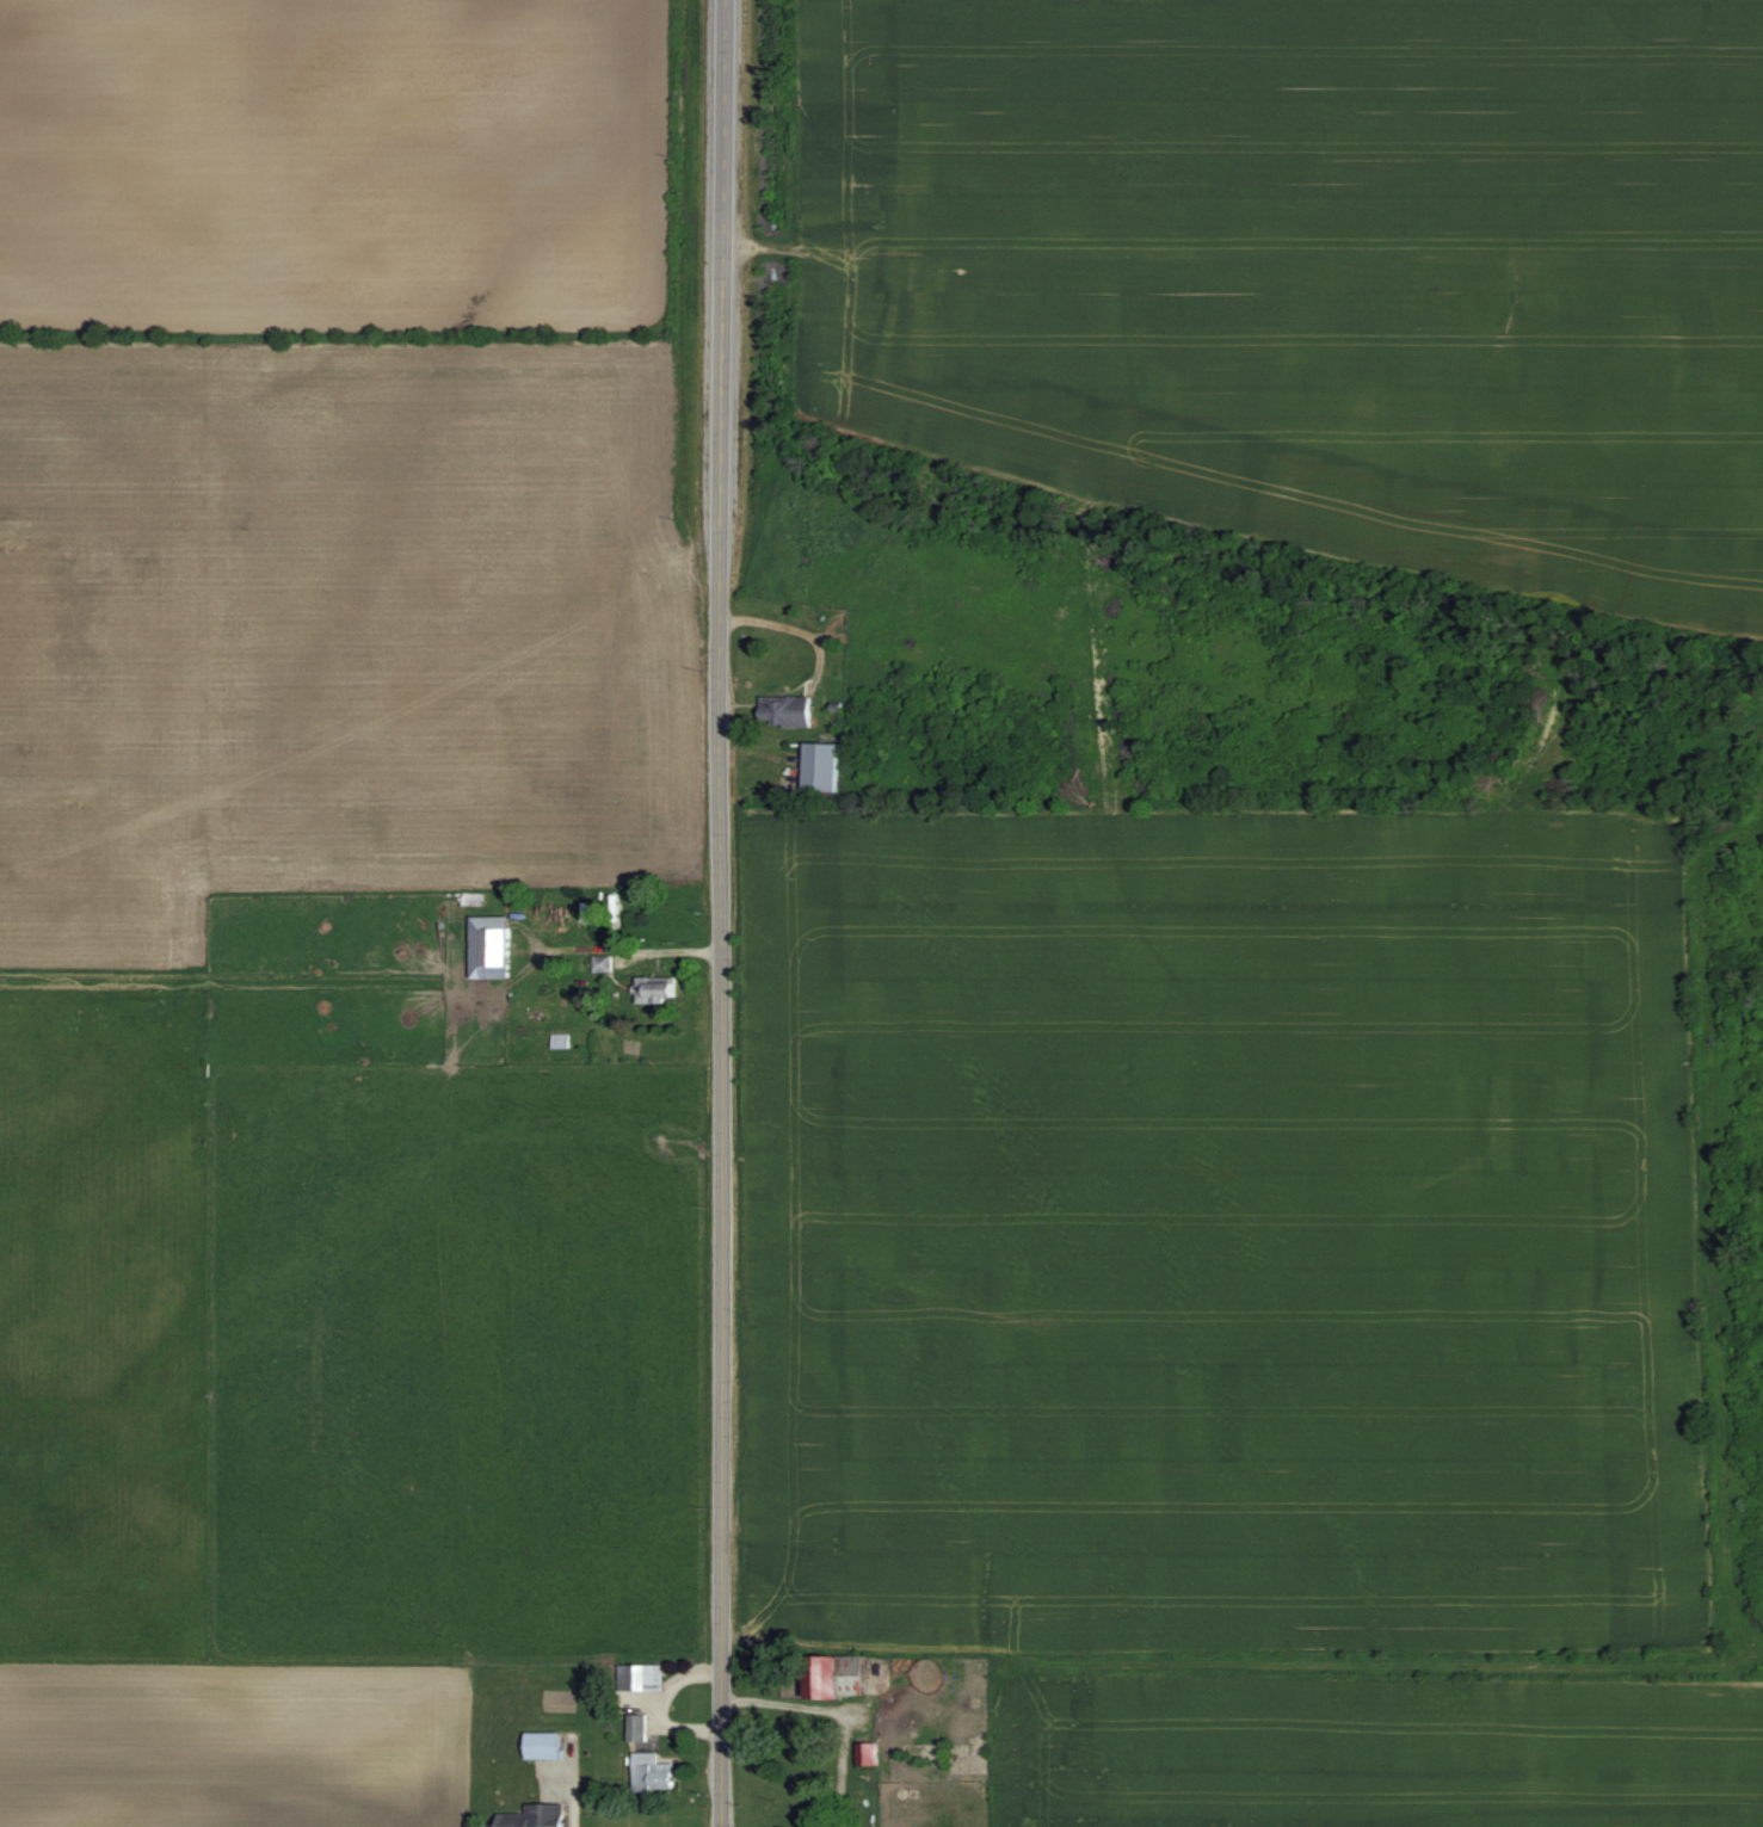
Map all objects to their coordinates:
building: (791, 709)
building: (826, 765)
road: (721, 913)
building: (498, 945)
building: (665, 987)
building: (838, 1673)
building: (642, 1675)
building: (640, 1726)
building: (547, 1743)
building: (870, 1751)
building: (655, 1772)
building: (538, 1815)

